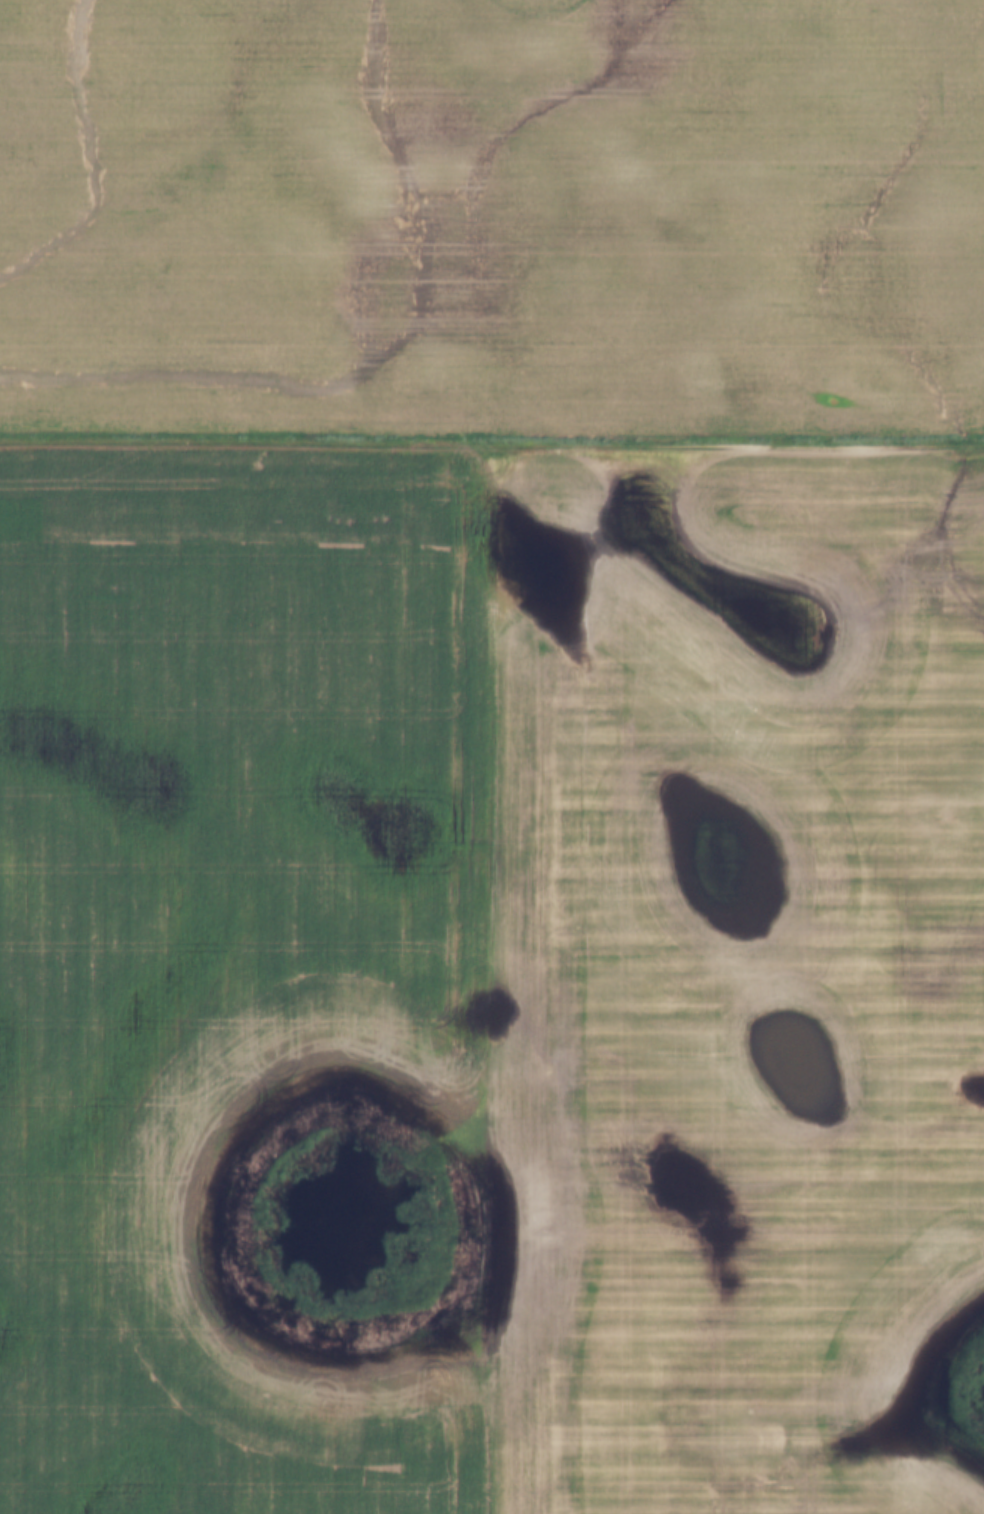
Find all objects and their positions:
road: (491, 448)

